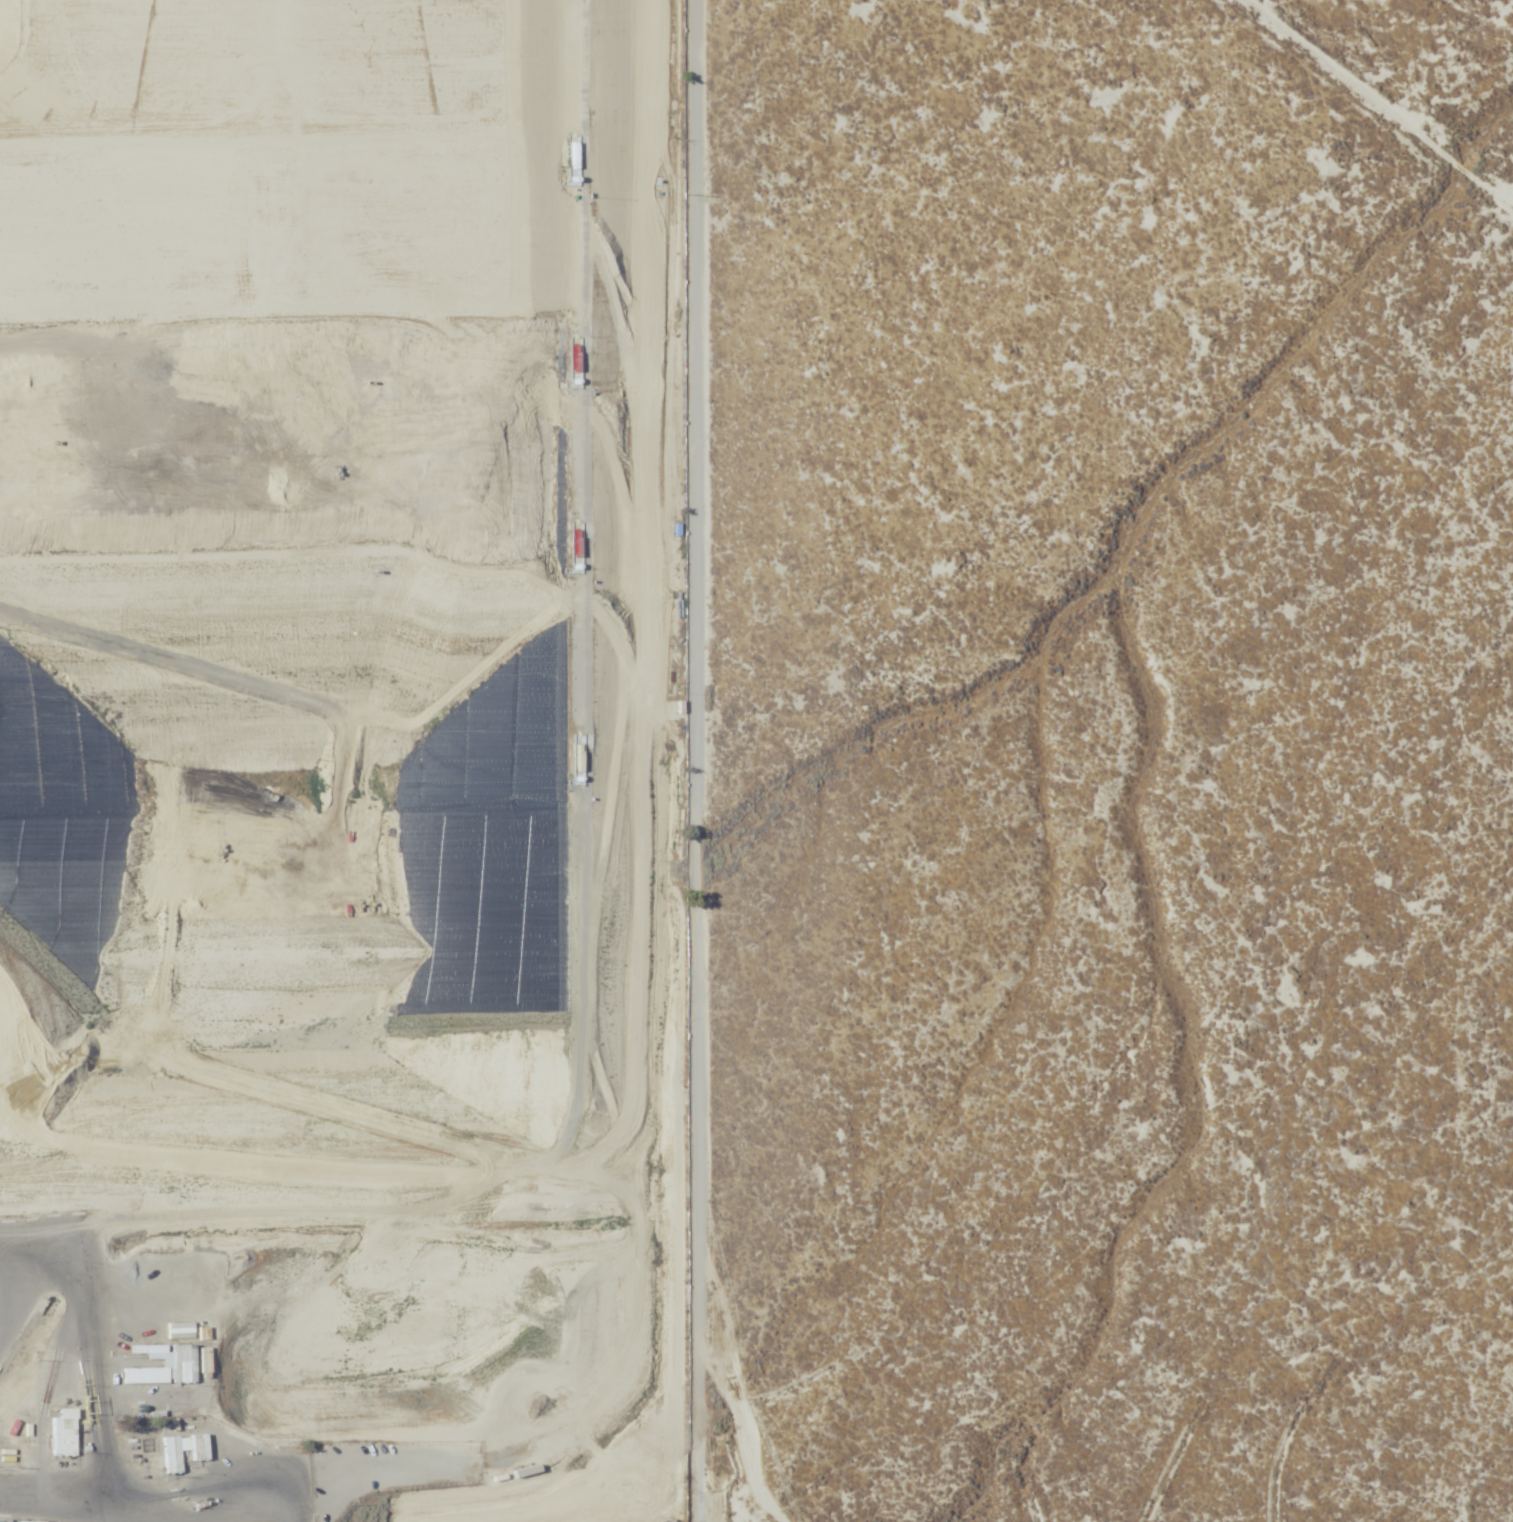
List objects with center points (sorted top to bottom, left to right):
landfill: (338, 761)
building: (57, 1434)
building: (178, 1451)

